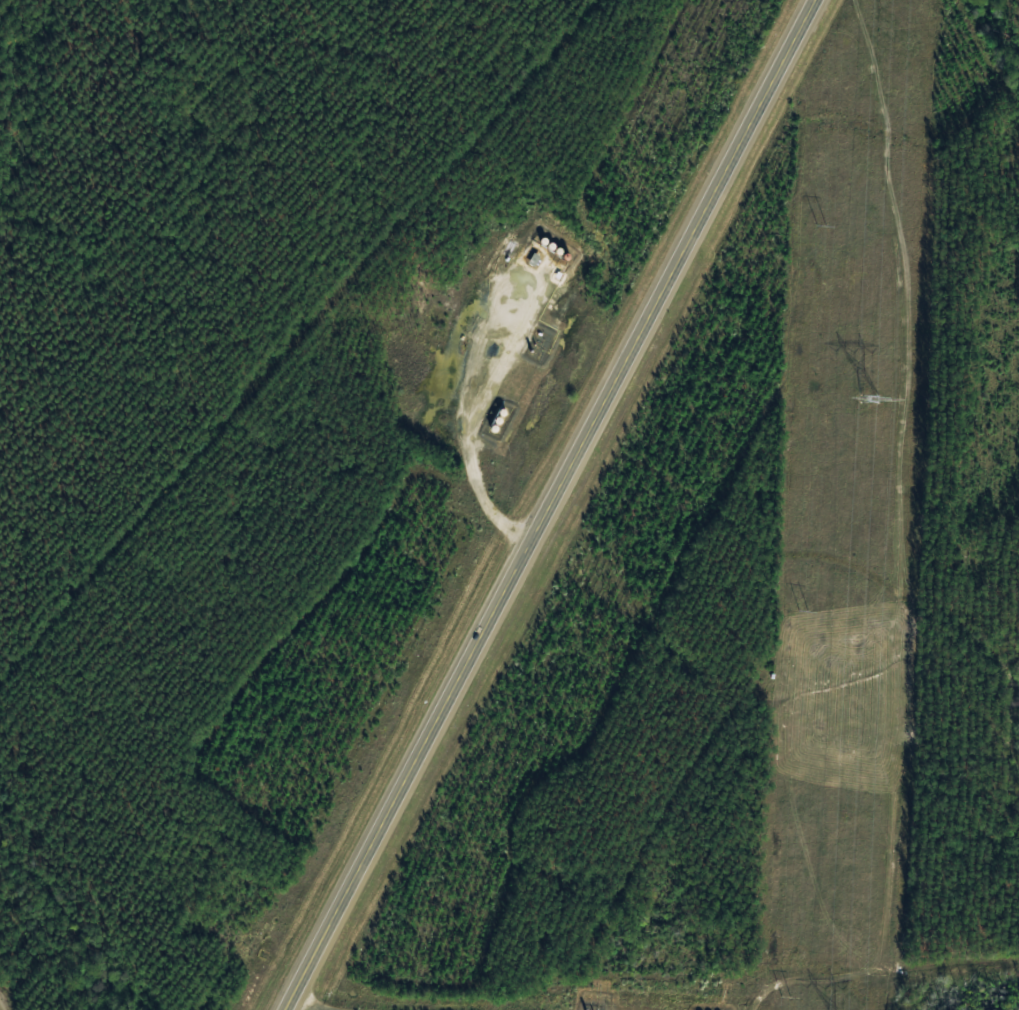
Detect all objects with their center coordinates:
power tower: (860, 398)
road: (559, 506)

